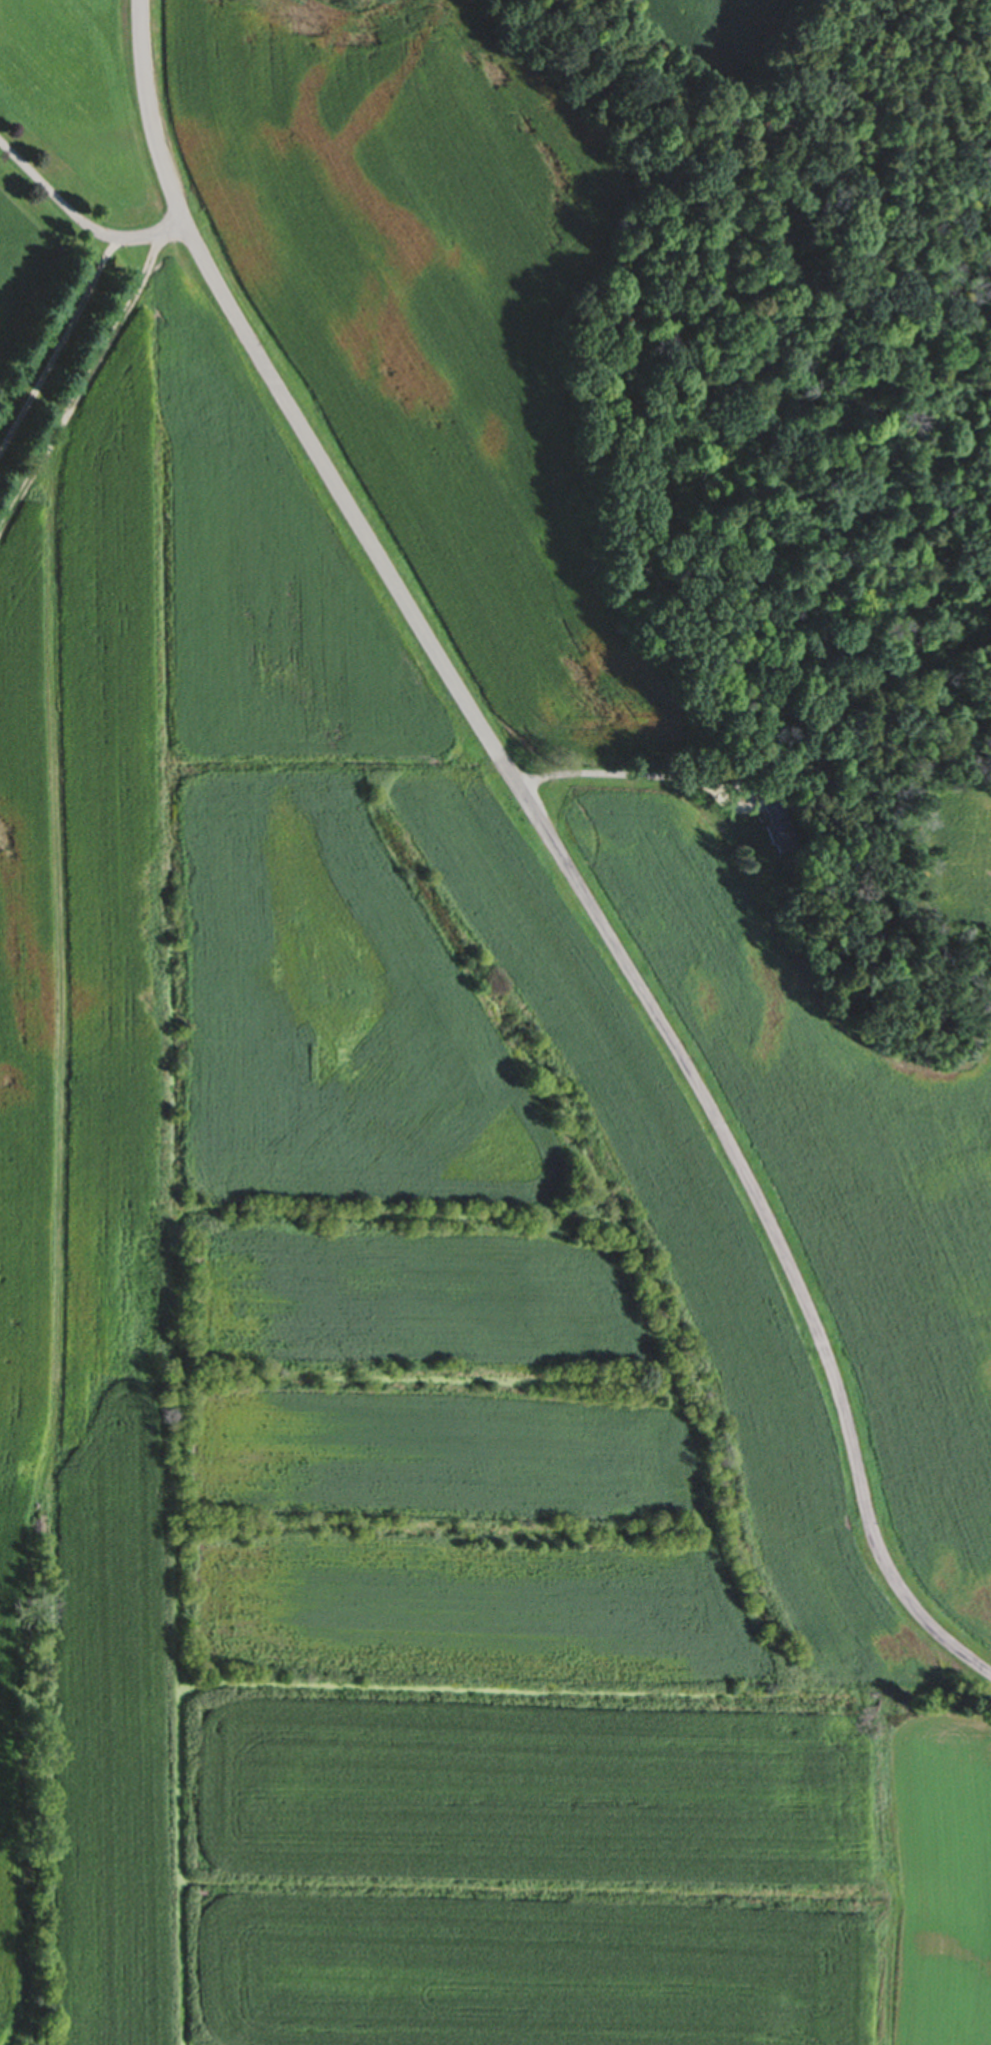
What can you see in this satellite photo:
road: (80, 223)
road: (58, 346)
road: (596, 773)
building: (771, 832)
road: (553, 845)

